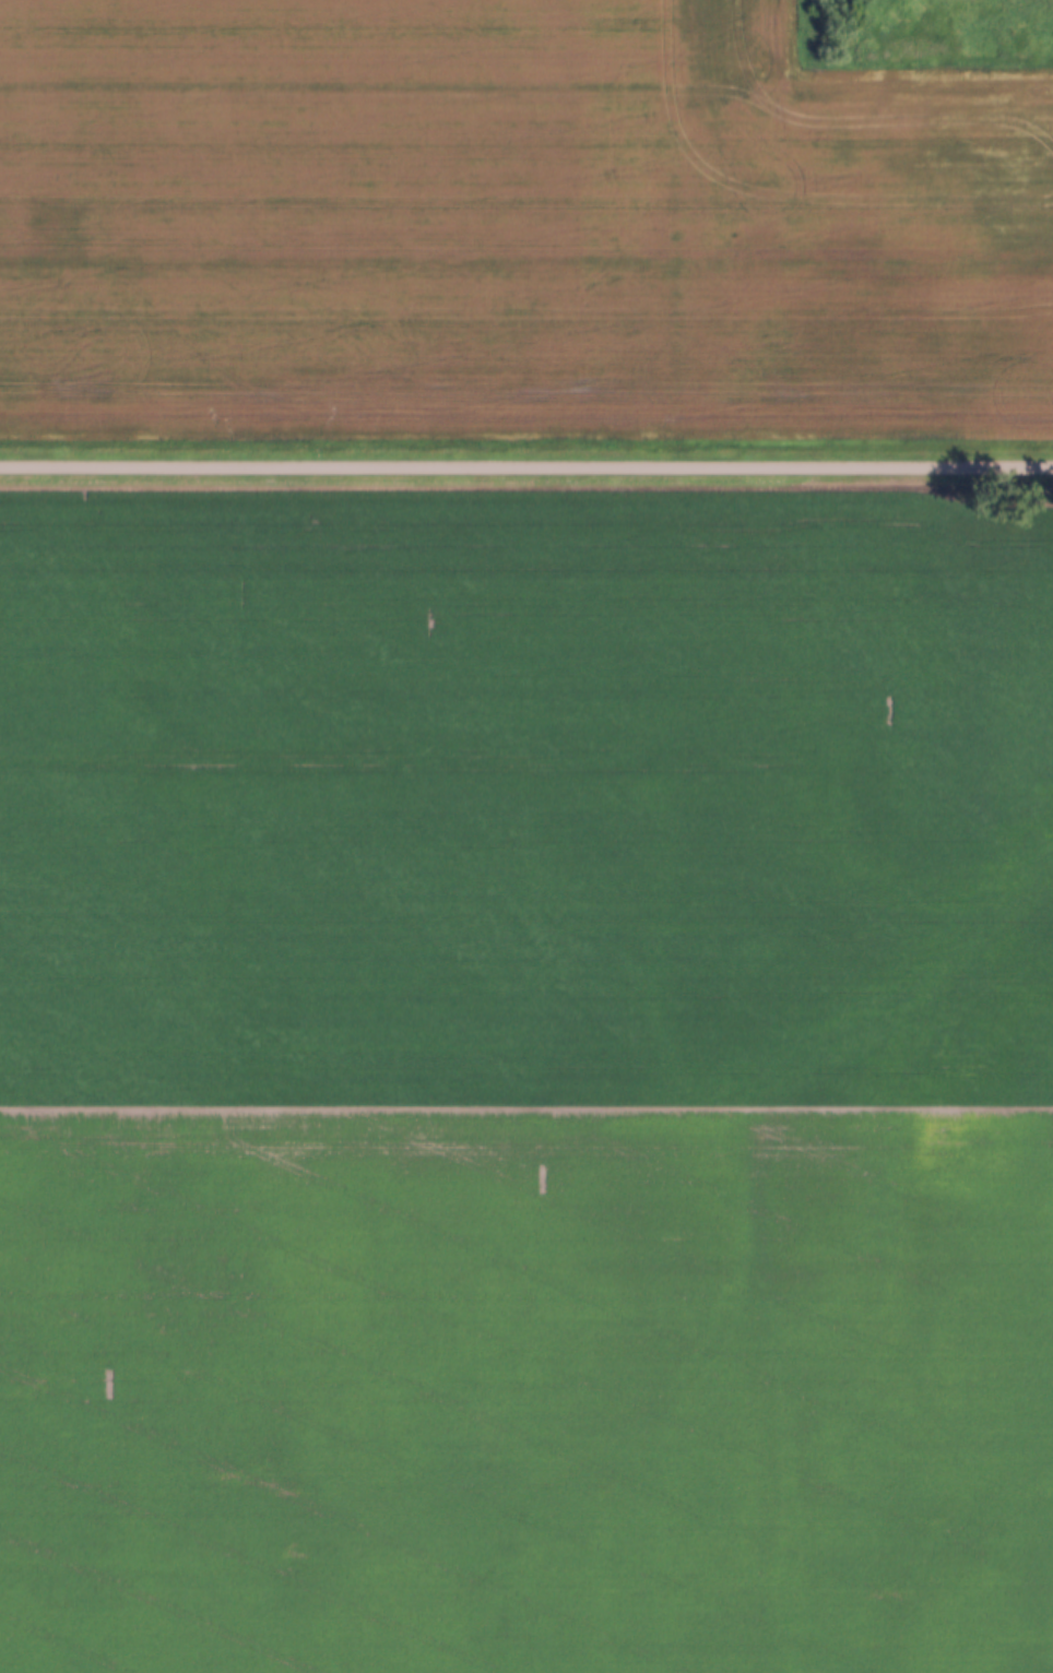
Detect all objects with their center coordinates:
road: (526, 467)

